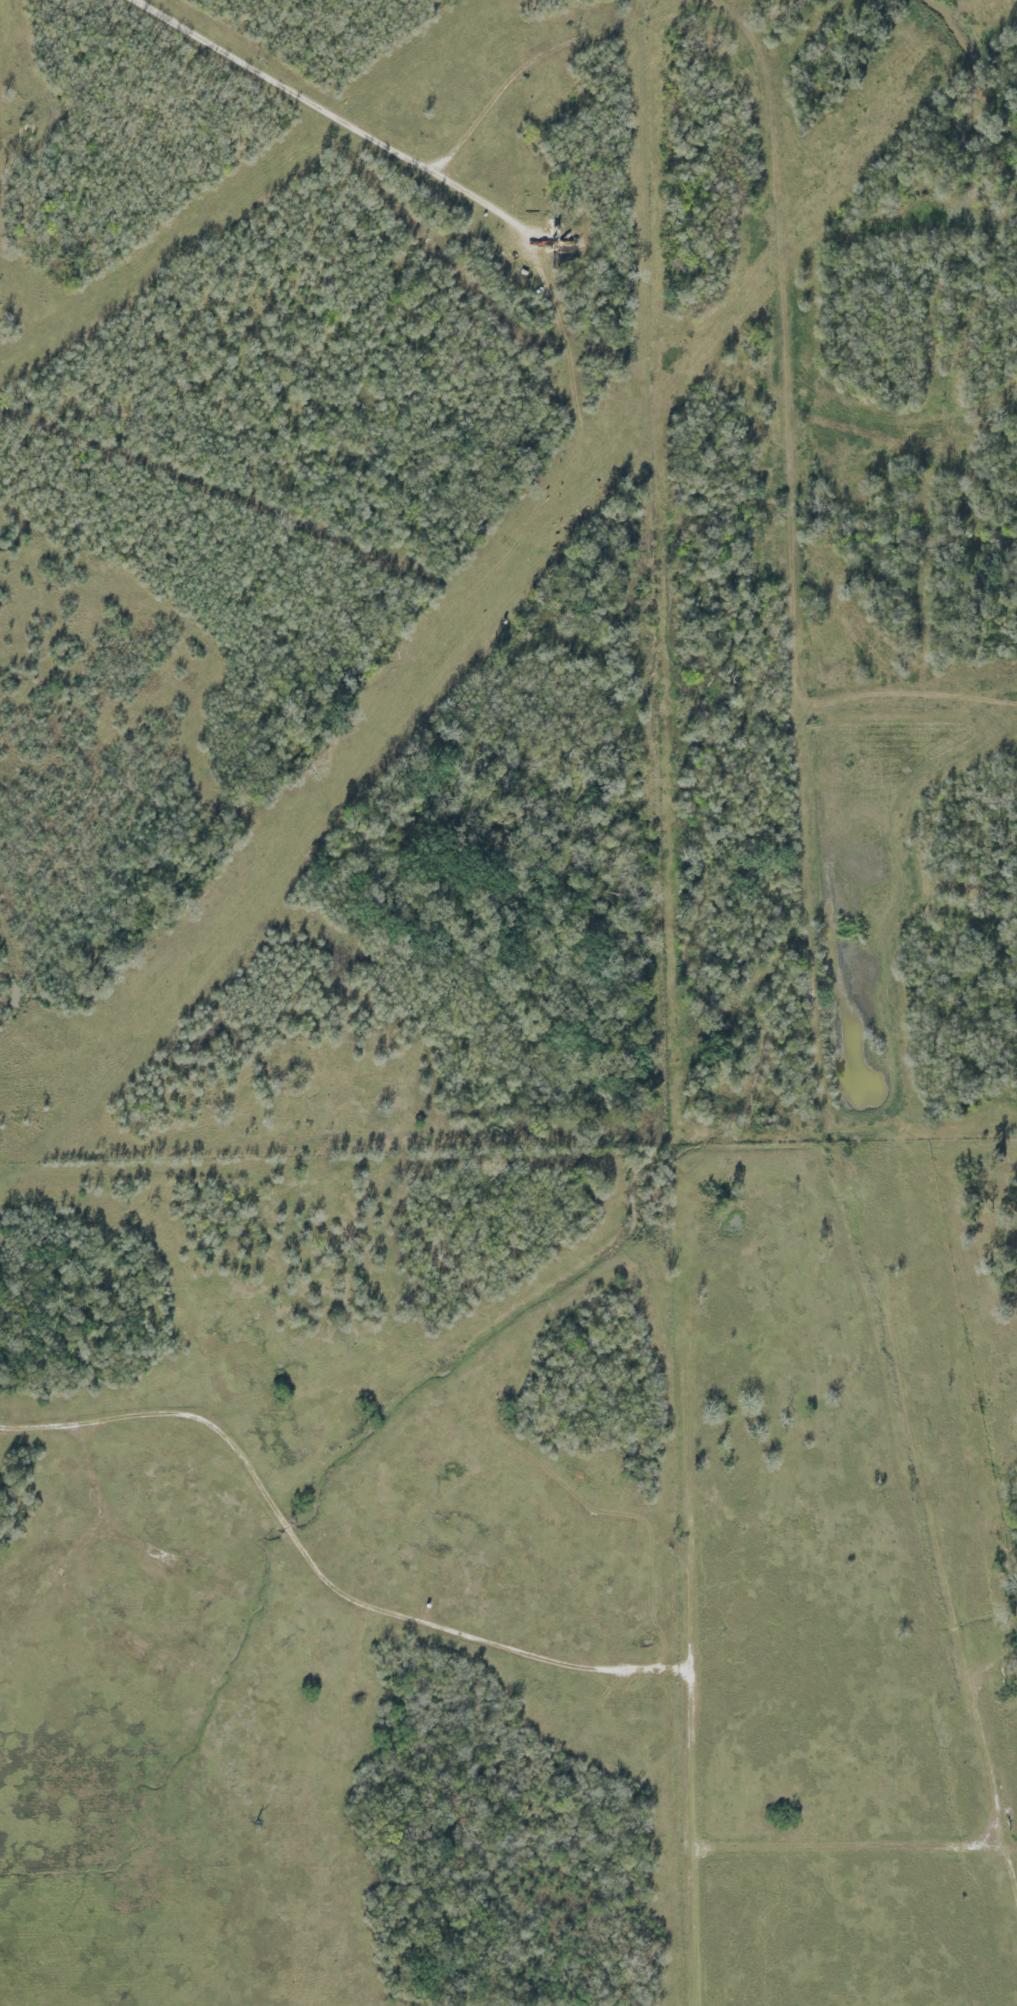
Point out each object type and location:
river: (979, 65)
road: (341, 117)
road: (319, 1572)
road: (694, 1839)

